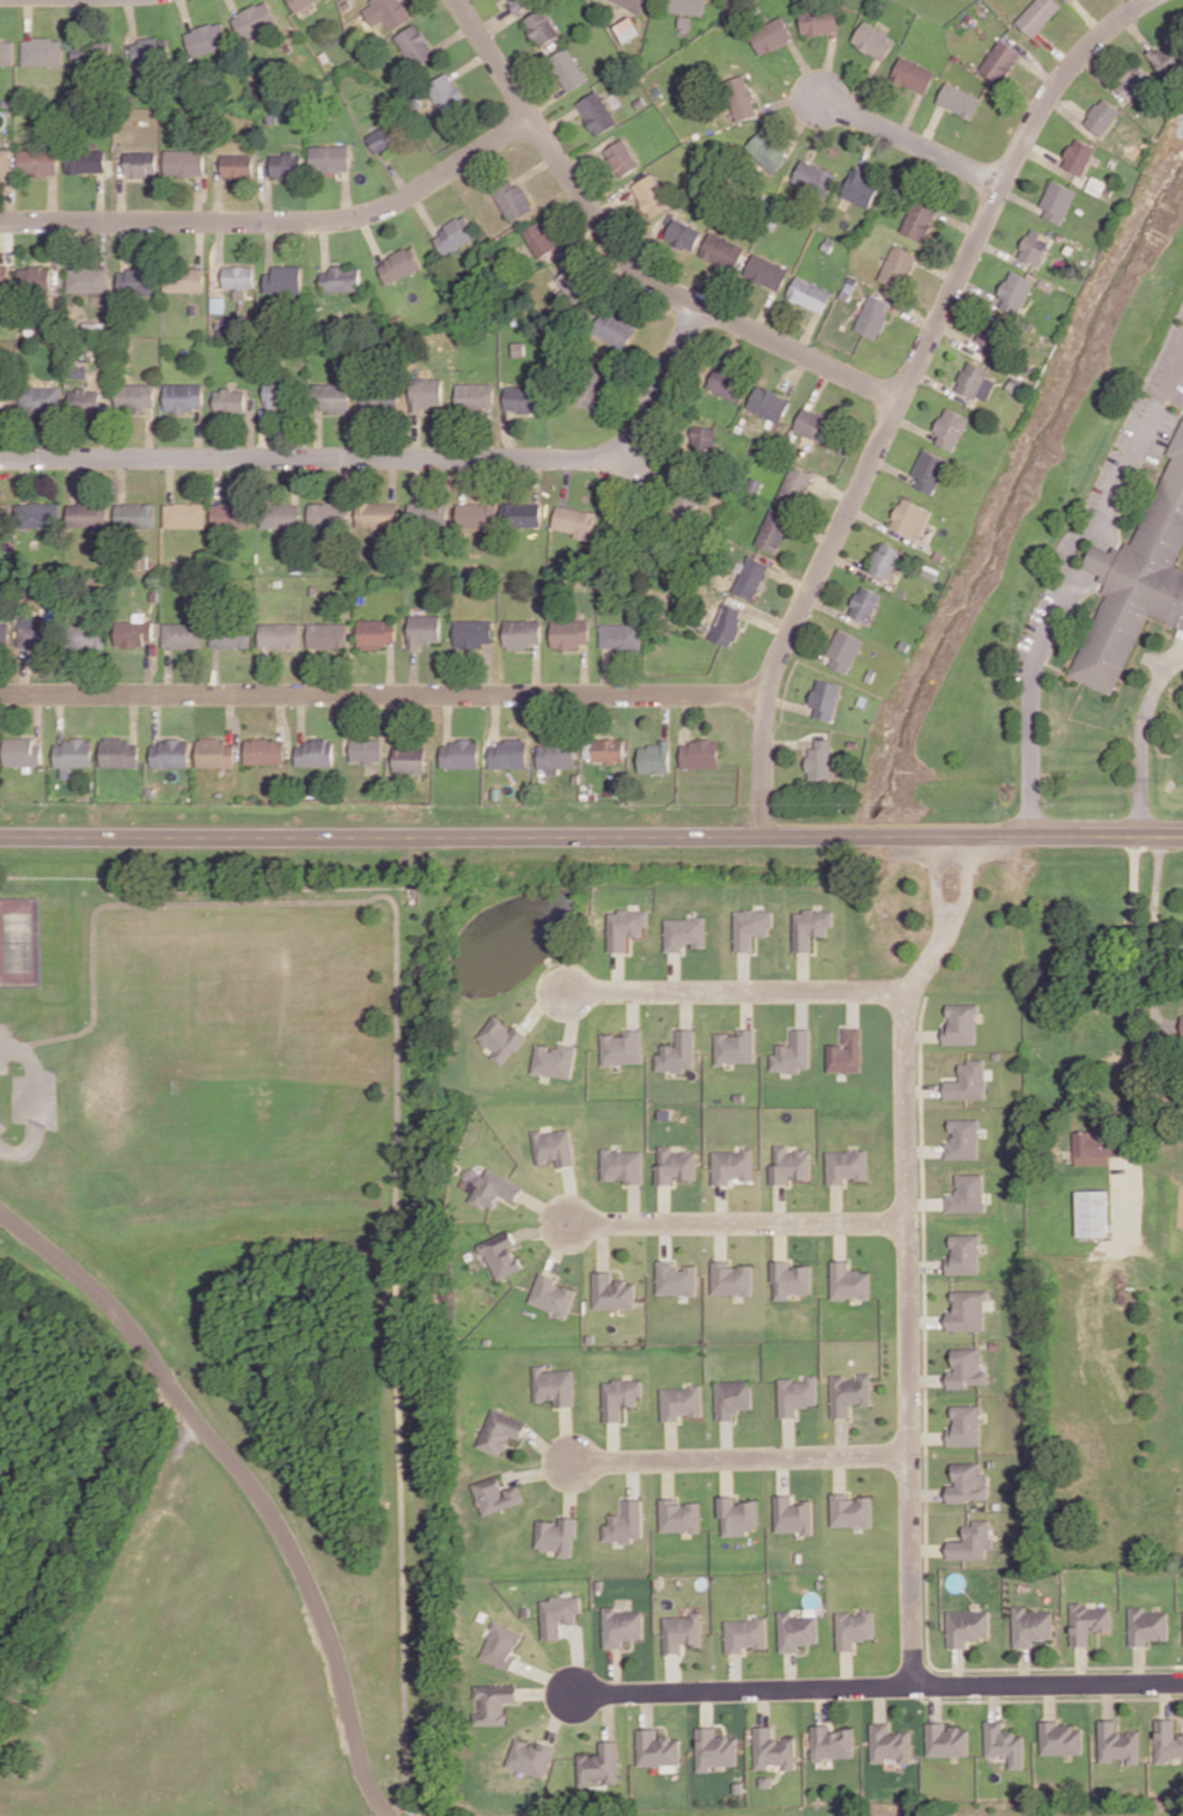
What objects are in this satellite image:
building: (1068, 0)
building: (298, 2)
building: (634, 4)
building: (520, 5)
building: (687, 6)
building: (385, 12)
building: (1037, 14)
building: (254, 19)
building: (819, 22)
building: (542, 26)
building: (628, 29)
building: (772, 35)
building: (206, 38)
building: (874, 39)
building: (414, 44)
building: (150, 49)
building: (6, 50)
building: (42, 51)
building: (91, 53)
building: (1167, 57)
building: (1000, 60)
building: (567, 68)
building: (913, 74)
building: (1134, 81)
building: (446, 93)
building: (742, 97)
building: (959, 99)
building: (596, 112)
building: (1103, 116)
building: (384, 138)
road: (911, 142)
building: (767, 151)
building: (1079, 156)
building: (622, 157)
building: (330, 158)
building: (5, 162)
building: (85, 162)
building: (38, 163)
building: (140, 163)
building: (184, 163)
building: (287, 164)
building: (238, 165)
building: (815, 177)
building: (861, 188)
building: (651, 195)
building: (513, 200)
building: (1057, 201)
building: (920, 219)
road: (279, 223)
building: (455, 234)
building: (683, 234)
building: (541, 239)
building: (1035, 246)
building: (722, 250)
road: (624, 258)
building: (400, 264)
building: (897, 266)
building: (767, 272)
building: (36, 278)
building: (89, 279)
building: (341, 279)
building: (185, 280)
building: (239, 280)
building: (283, 280)
building: (5, 281)
building: (139, 281)
building: (1016, 291)
building: (810, 293)
building: (873, 316)
building: (614, 328)
building: (993, 335)
parking lot: (1169, 362)
building: (976, 380)
building: (728, 383)
building: (426, 392)
building: (593, 392)
road: (902, 394)
building: (276, 395)
building: (474, 395)
building: (135, 396)
building: (184, 396)
building: (333, 396)
building: (39, 398)
building: (523, 398)
building: (85, 400)
building: (230, 400)
building: (1, 401)
building: (380, 401)
building: (769, 403)
building: (815, 425)
building: (951, 428)
parking lot: (1160, 435)
building: (703, 437)
parking lot: (1115, 453)
road: (394, 459)
street lamp: (1099, 464)
building: (929, 470)
river: (1016, 481)
building: (794, 486)
building: (328, 513)
building: (5, 514)
building: (37, 514)
building: (135, 514)
building: (184, 514)
building: (281, 514)
building: (377, 514)
building: (428, 514)
building: (476, 514)
building: (522, 514)
building: (87, 516)
building: (232, 516)
street lamp: (858, 518)
building: (911, 518)
building: (575, 520)
road: (882, 523)
building: (774, 530)
building: (886, 560)
road: (858, 567)
building: (750, 577)
building: (1139, 577)
road: (1074, 578)
building: (866, 603)
road: (833, 609)
building: (727, 623)
building: (426, 629)
parking lot: (1033, 629)
building: (134, 632)
building: (377, 632)
building: (474, 632)
building: (522, 633)
building: (569, 633)
building: (35, 634)
building: (183, 634)
building: (280, 634)
building: (5, 635)
building: (89, 635)
building: (329, 635)
building: (620, 635)
road: (807, 645)
building: (844, 650)
road: (383, 695)
building: (827, 697)
road: (1142, 736)
road: (788, 742)
building: (367, 749)
building: (266, 750)
building: (609, 750)
building: (23, 751)
building: (120, 752)
building: (217, 752)
building: (316, 752)
building: (73, 754)
building: (171, 754)
building: (461, 754)
building: (508, 754)
building: (700, 754)
building: (556, 756)
building: (655, 757)
building: (410, 758)
building: (821, 760)
building: (577, 776)
building: (498, 791)
building: (376, 794)
road: (591, 835)
road: (937, 879)
road: (968, 882)
road: (1154, 922)
building: (626, 925)
building: (751, 925)
building: (812, 925)
building: (685, 932)
park: (19, 940)
road: (745, 970)
road: (618, 971)
road: (676, 971)
road: (805, 971)
road: (736, 989)
road: (542, 1003)
road: (855, 1004)
road: (634, 1006)
road: (687, 1006)
road: (748, 1006)
road: (801, 1006)
road: (573, 1013)
building: (962, 1022)
building: (1182, 1026)
road: (1132, 1028)
parking lot: (8, 1032)
road: (921, 1034)
building: (501, 1037)
building: (621, 1046)
building: (736, 1046)
building: (794, 1050)
building: (678, 1052)
building: (847, 1052)
building: (554, 1059)
parking lot: (4, 1065)
building: (968, 1079)
road: (922, 1089)
parking lot: (19, 1097)
parking lot: (50, 1097)
road: (35, 1101)
road: (397, 1110)
building: (665, 1113)
parking lot: (2, 1126)
building: (963, 1136)
building: (555, 1145)
building: (1097, 1146)
road: (923, 1150)
building: (675, 1163)
building: (791, 1163)
building: (622, 1164)
building: (733, 1164)
building: (847, 1164)
building: (493, 1188)
building: (966, 1192)
road: (573, 1193)
road: (635, 1201)
road: (722, 1201)
road: (780, 1201)
road: (836, 1201)
road: (665, 1202)
road: (925, 1202)
road: (545, 1206)
building: (1091, 1212)
road: (738, 1219)
road: (544, 1230)
road: (667, 1238)
road: (721, 1238)
road: (780, 1238)
road: (840, 1238)
road: (559, 1244)
road: (604, 1244)
building: (963, 1251)
building: (501, 1253)
road: (925, 1265)
building: (677, 1276)
building: (731, 1276)
building: (789, 1276)
building: (848, 1280)
building: (614, 1290)
building: (553, 1293)
road: (908, 1296)
building: (966, 1309)
road: (925, 1320)
building: (994, 1345)
park: (238, 1357)
building: (965, 1366)
road: (927, 1378)
building: (554, 1383)
building: (849, 1391)
building: (795, 1394)
building: (620, 1395)
building: (733, 1396)
building: (682, 1400)
building: (964, 1422)
building: (501, 1430)
road: (568, 1433)
road: (842, 1436)
road: (927, 1436)
road: (789, 1437)
road: (727, 1438)
road: (672, 1439)
road: (614, 1440)
road: (547, 1446)
road: (926, 1455)
road: (739, 1456)
road: (538, 1470)
road: (840, 1473)
road: (783, 1474)
road: (726, 1475)
road: (669, 1476)
road: (633, 1477)
road: (248, 1479)
building: (968, 1481)
road: (572, 1487)
building: (496, 1493)
road: (927, 1493)
building: (852, 1509)
building: (679, 1513)
building: (737, 1513)
building: (793, 1513)
building: (624, 1521)
building: (556, 1532)
building: (974, 1540)
road: (928, 1548)
building: (559, 1613)
building: (1089, 1620)
building: (1147, 1623)
building: (621, 1625)
building: (968, 1625)
building: (1032, 1625)
building: (854, 1626)
building: (795, 1628)
building: (682, 1629)
building: (745, 1632)
building: (504, 1643)
road: (578, 1658)
road: (1081, 1663)
road: (1139, 1663)
road: (958, 1664)
road: (1025, 1664)
road: (846, 1666)
road: (615, 1669)
road: (789, 1669)
road: (675, 1670)
road: (734, 1670)
road: (547, 1675)
road: (878, 1683)
road: (548, 1690)
road: (1050, 1696)
road: (1108, 1698)
road: (1165, 1698)
road: (1050, 1699)
building: (495, 1700)
road: (994, 1700)
road: (878, 1701)
road: (934, 1701)
road: (819, 1704)
road: (707, 1705)
road: (762, 1705)
road: (647, 1707)
road: (559, 1713)
road: (609, 1713)
road: (1181, 1716)
road: (661, 1723)
road: (721, 1723)
building: (1060, 1737)
building: (945, 1738)
building: (1167, 1739)
building: (830, 1741)
building: (888, 1741)
building: (1118, 1741)
building: (1004, 1742)
building: (657, 1747)
building: (714, 1747)
building: (772, 1748)
building: (531, 1755)
building: (599, 1762)
building: (766, 1780)
building: (738, 1786)
building: (413, 1808)
road: (384, 1814)

